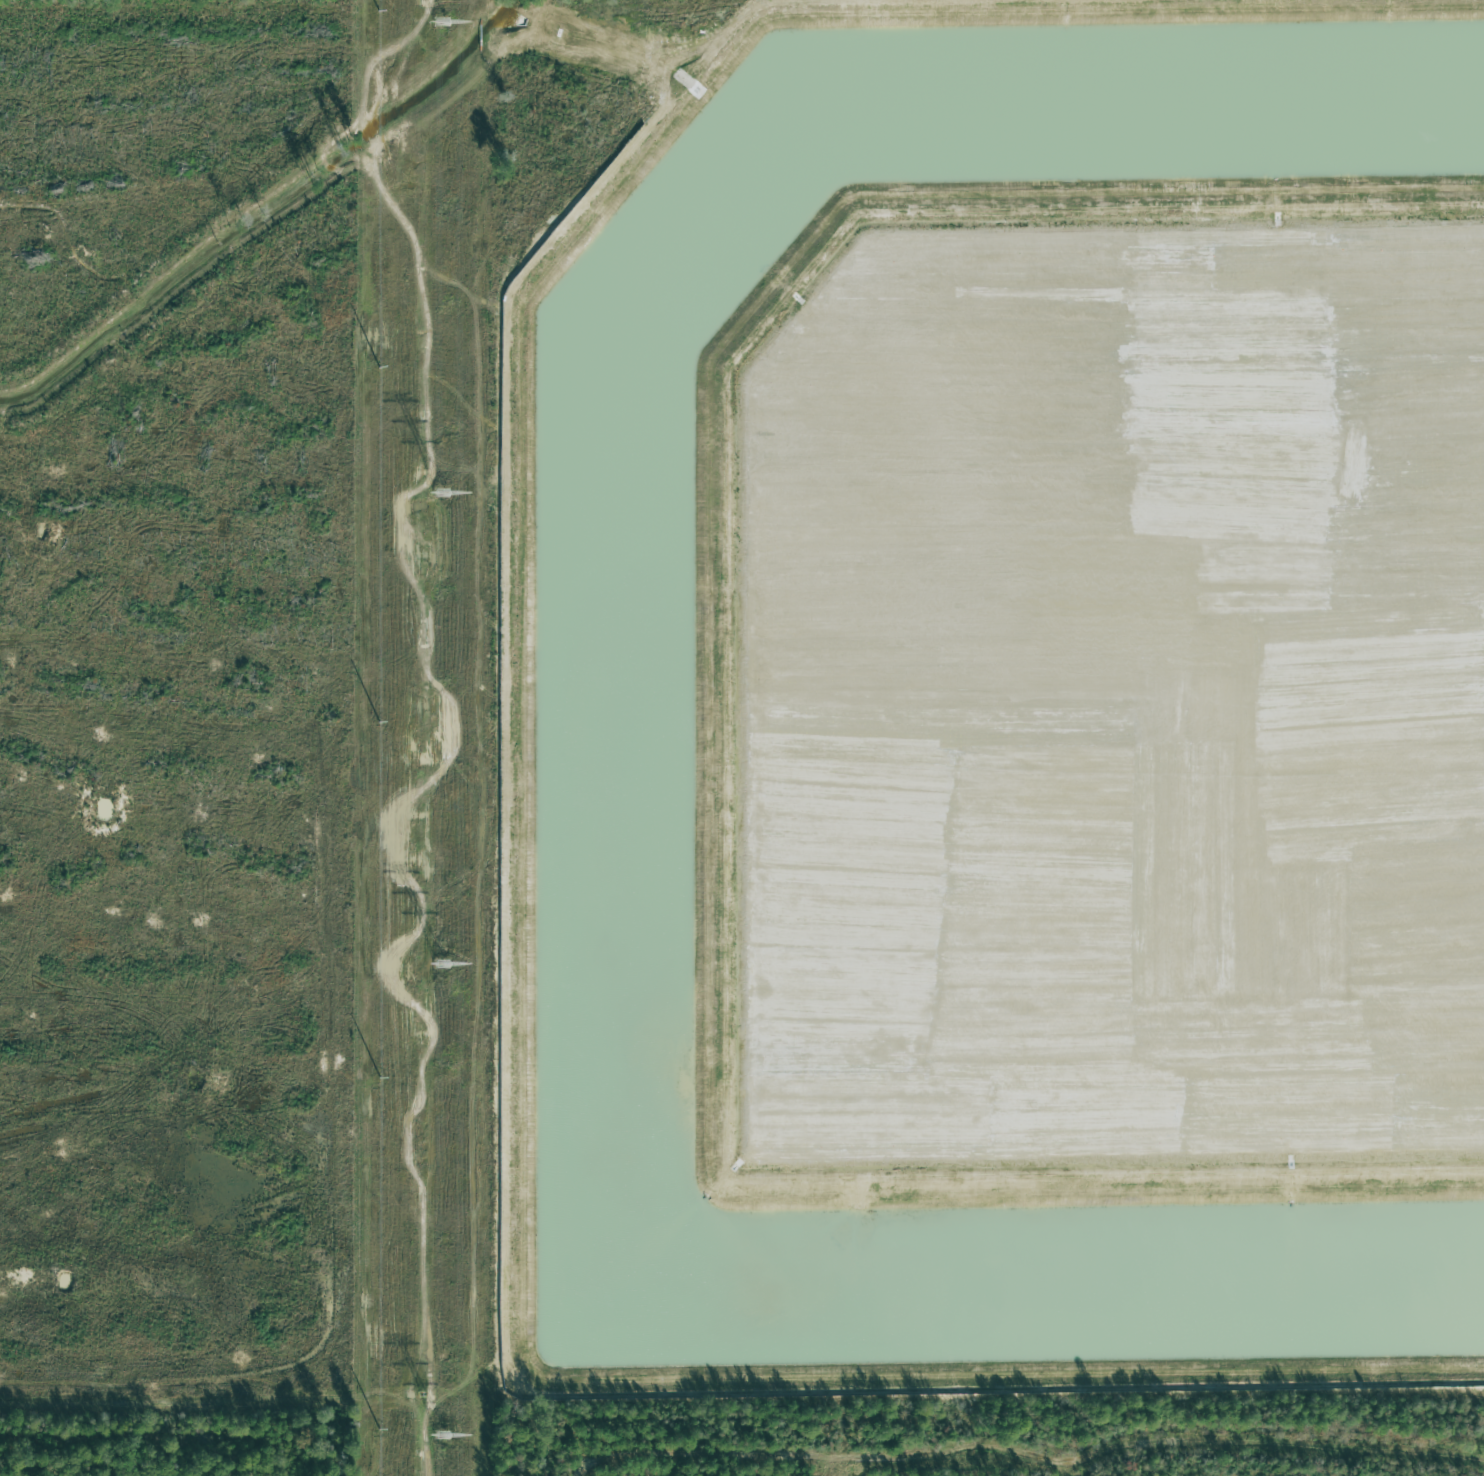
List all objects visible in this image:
power tower: (445, 27)
power tower: (444, 498)
power tower: (442, 968)
power tower: (444, 1436)

